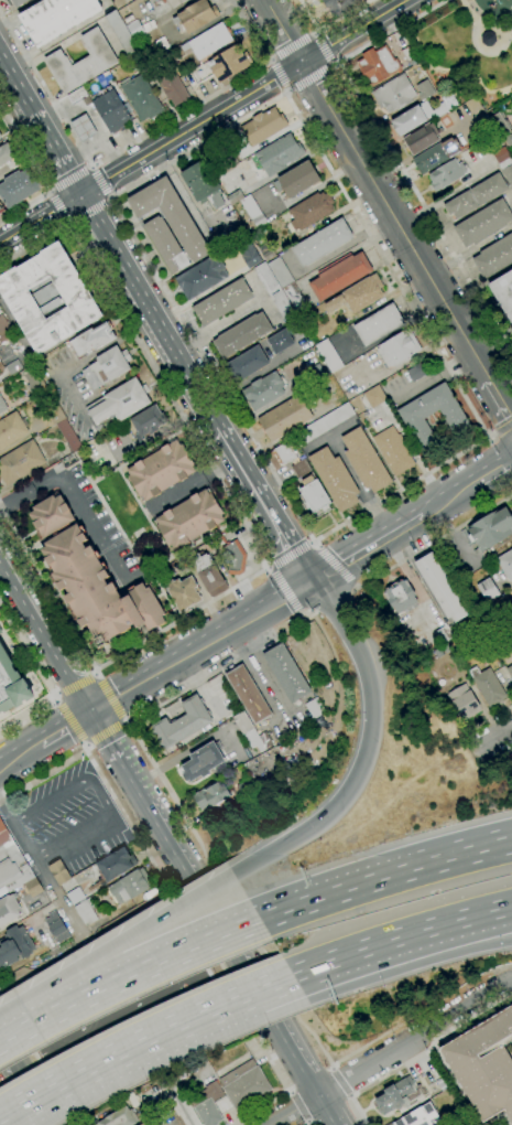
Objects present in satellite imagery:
building: (18, 2)
building: (175, 2)
building: (338, 6)
building: (196, 15)
building: (56, 18)
road: (481, 23)
road: (328, 24)
building: (149, 26)
building: (135, 30)
road: (318, 32)
building: (121, 33)
building: (203, 43)
building: (162, 44)
park: (464, 44)
road: (294, 46)
road: (327, 47)
road: (482, 50)
building: (150, 52)
building: (406, 55)
road: (270, 60)
building: (81, 62)
building: (137, 62)
road: (338, 62)
building: (228, 63)
building: (378, 65)
road: (276, 74)
road: (309, 74)
building: (173, 87)
building: (424, 90)
road: (284, 92)
building: (76, 94)
building: (394, 94)
building: (141, 97)
building: (449, 101)
building: (111, 109)
building: (433, 110)
building: (408, 120)
road: (204, 122)
building: (500, 125)
building: (263, 126)
building: (83, 127)
gas station: (83, 127)
building: (0, 136)
building: (422, 138)
building: (0, 139)
road: (133, 142)
building: (6, 153)
building: (279, 154)
building: (435, 156)
road: (393, 157)
building: (502, 158)
road: (90, 167)
building: (508, 173)
road: (39, 175)
building: (446, 175)
road: (70, 180)
building: (296, 180)
road: (100, 182)
building: (201, 185)
building: (18, 187)
road: (50, 192)
road: (447, 194)
traffic signals: (83, 195)
building: (476, 196)
building: (236, 197)
road: (511, 197)
road: (109, 199)
road: (58, 206)
building: (1, 207)
road: (88, 208)
building: (311, 210)
road: (389, 211)
building: (252, 213)
building: (171, 216)
road: (67, 224)
road: (68, 224)
building: (483, 224)
building: (322, 243)
road: (33, 245)
building: (166, 246)
road: (469, 251)
road: (117, 253)
building: (249, 255)
building: (269, 256)
building: (494, 257)
building: (280, 272)
building: (339, 276)
building: (201, 277)
building: (280, 292)
building: (503, 293)
building: (358, 296)
building: (48, 298)
building: (295, 299)
building: (222, 302)
road: (140, 321)
building: (379, 325)
building: (4, 330)
building: (241, 335)
building: (92, 340)
building: (280, 342)
building: (399, 349)
building: (329, 355)
building: (247, 364)
building: (13, 367)
building: (107, 367)
building: (418, 371)
building: (33, 382)
building: (264, 390)
road: (168, 396)
building: (374, 397)
building: (119, 404)
building: (2, 406)
building: (54, 415)
building: (285, 418)
building: (149, 421)
building: (457, 422)
building: (324, 425)
road: (503, 427)
building: (11, 429)
road: (492, 433)
road: (488, 435)
building: (68, 436)
building: (393, 451)
building: (283, 453)
building: (364, 461)
building: (20, 462)
building: (301, 469)
building: (161, 470)
road: (493, 470)
building: (335, 479)
road: (357, 485)
road: (73, 493)
building: (314, 495)
road: (447, 497)
road: (272, 514)
building: (51, 515)
building: (189, 519)
building: (491, 529)
road: (434, 539)
road: (311, 542)
building: (218, 543)
road: (315, 544)
road: (366, 546)
road: (288, 554)
building: (233, 558)
road: (336, 565)
building: (505, 565)
road: (265, 567)
building: (208, 575)
traffic signals: (313, 579)
road: (413, 582)
road: (356, 586)
building: (442, 588)
building: (97, 589)
road: (283, 589)
building: (488, 590)
building: (184, 593)
building: (511, 593)
building: (401, 597)
road: (298, 614)
road: (35, 626)
building: (1, 632)
building: (443, 634)
road: (199, 644)
building: (446, 647)
building: (438, 653)
road: (99, 668)
road: (258, 671)
road: (95, 672)
building: (509, 672)
road: (98, 673)
building: (286, 673)
road: (44, 676)
road: (81, 679)
road: (197, 683)
building: (12, 685)
building: (487, 686)
road: (64, 689)
road: (57, 694)
building: (248, 695)
road: (56, 696)
road: (111, 697)
building: (464, 703)
road: (372, 706)
building: (315, 708)
traffic signals: (88, 710)
road: (498, 715)
road: (72, 720)
road: (127, 721)
building: (242, 721)
building: (182, 724)
road: (62, 726)
building: (277, 731)
road: (105, 732)
building: (257, 740)
road: (491, 740)
road: (85, 747)
road: (19, 753)
building: (203, 761)
building: (243, 786)
building: (210, 795)
parking lot: (67, 817)
traffic signals: (311, 828)
road: (199, 847)
road: (271, 851)
road: (464, 856)
building: (11, 864)
road: (37, 865)
building: (115, 865)
building: (59, 872)
building: (129, 886)
building: (33, 888)
road: (337, 893)
building: (75, 896)
road: (176, 904)
road: (204, 904)
building: (8, 910)
building: (85, 911)
road: (473, 919)
building: (56, 928)
road: (473, 935)
road: (123, 939)
building: (14, 946)
road: (363, 952)
road: (128, 979)
road: (287, 981)
road: (139, 1046)
road: (389, 1049)
road: (36, 1061)
building: (483, 1064)
road: (333, 1069)
road: (340, 1082)
road: (374, 1083)
building: (244, 1085)
road: (22, 1087)
road: (290, 1094)
road: (349, 1096)
building: (399, 1096)
building: (207, 1104)
building: (222, 1105)
road: (298, 1106)
road: (9, 1110)
road: (179, 1111)
building: (118, 1117)
building: (420, 1117)
road: (306, 1122)
building: (142, 1124)
road: (307, 1124)

